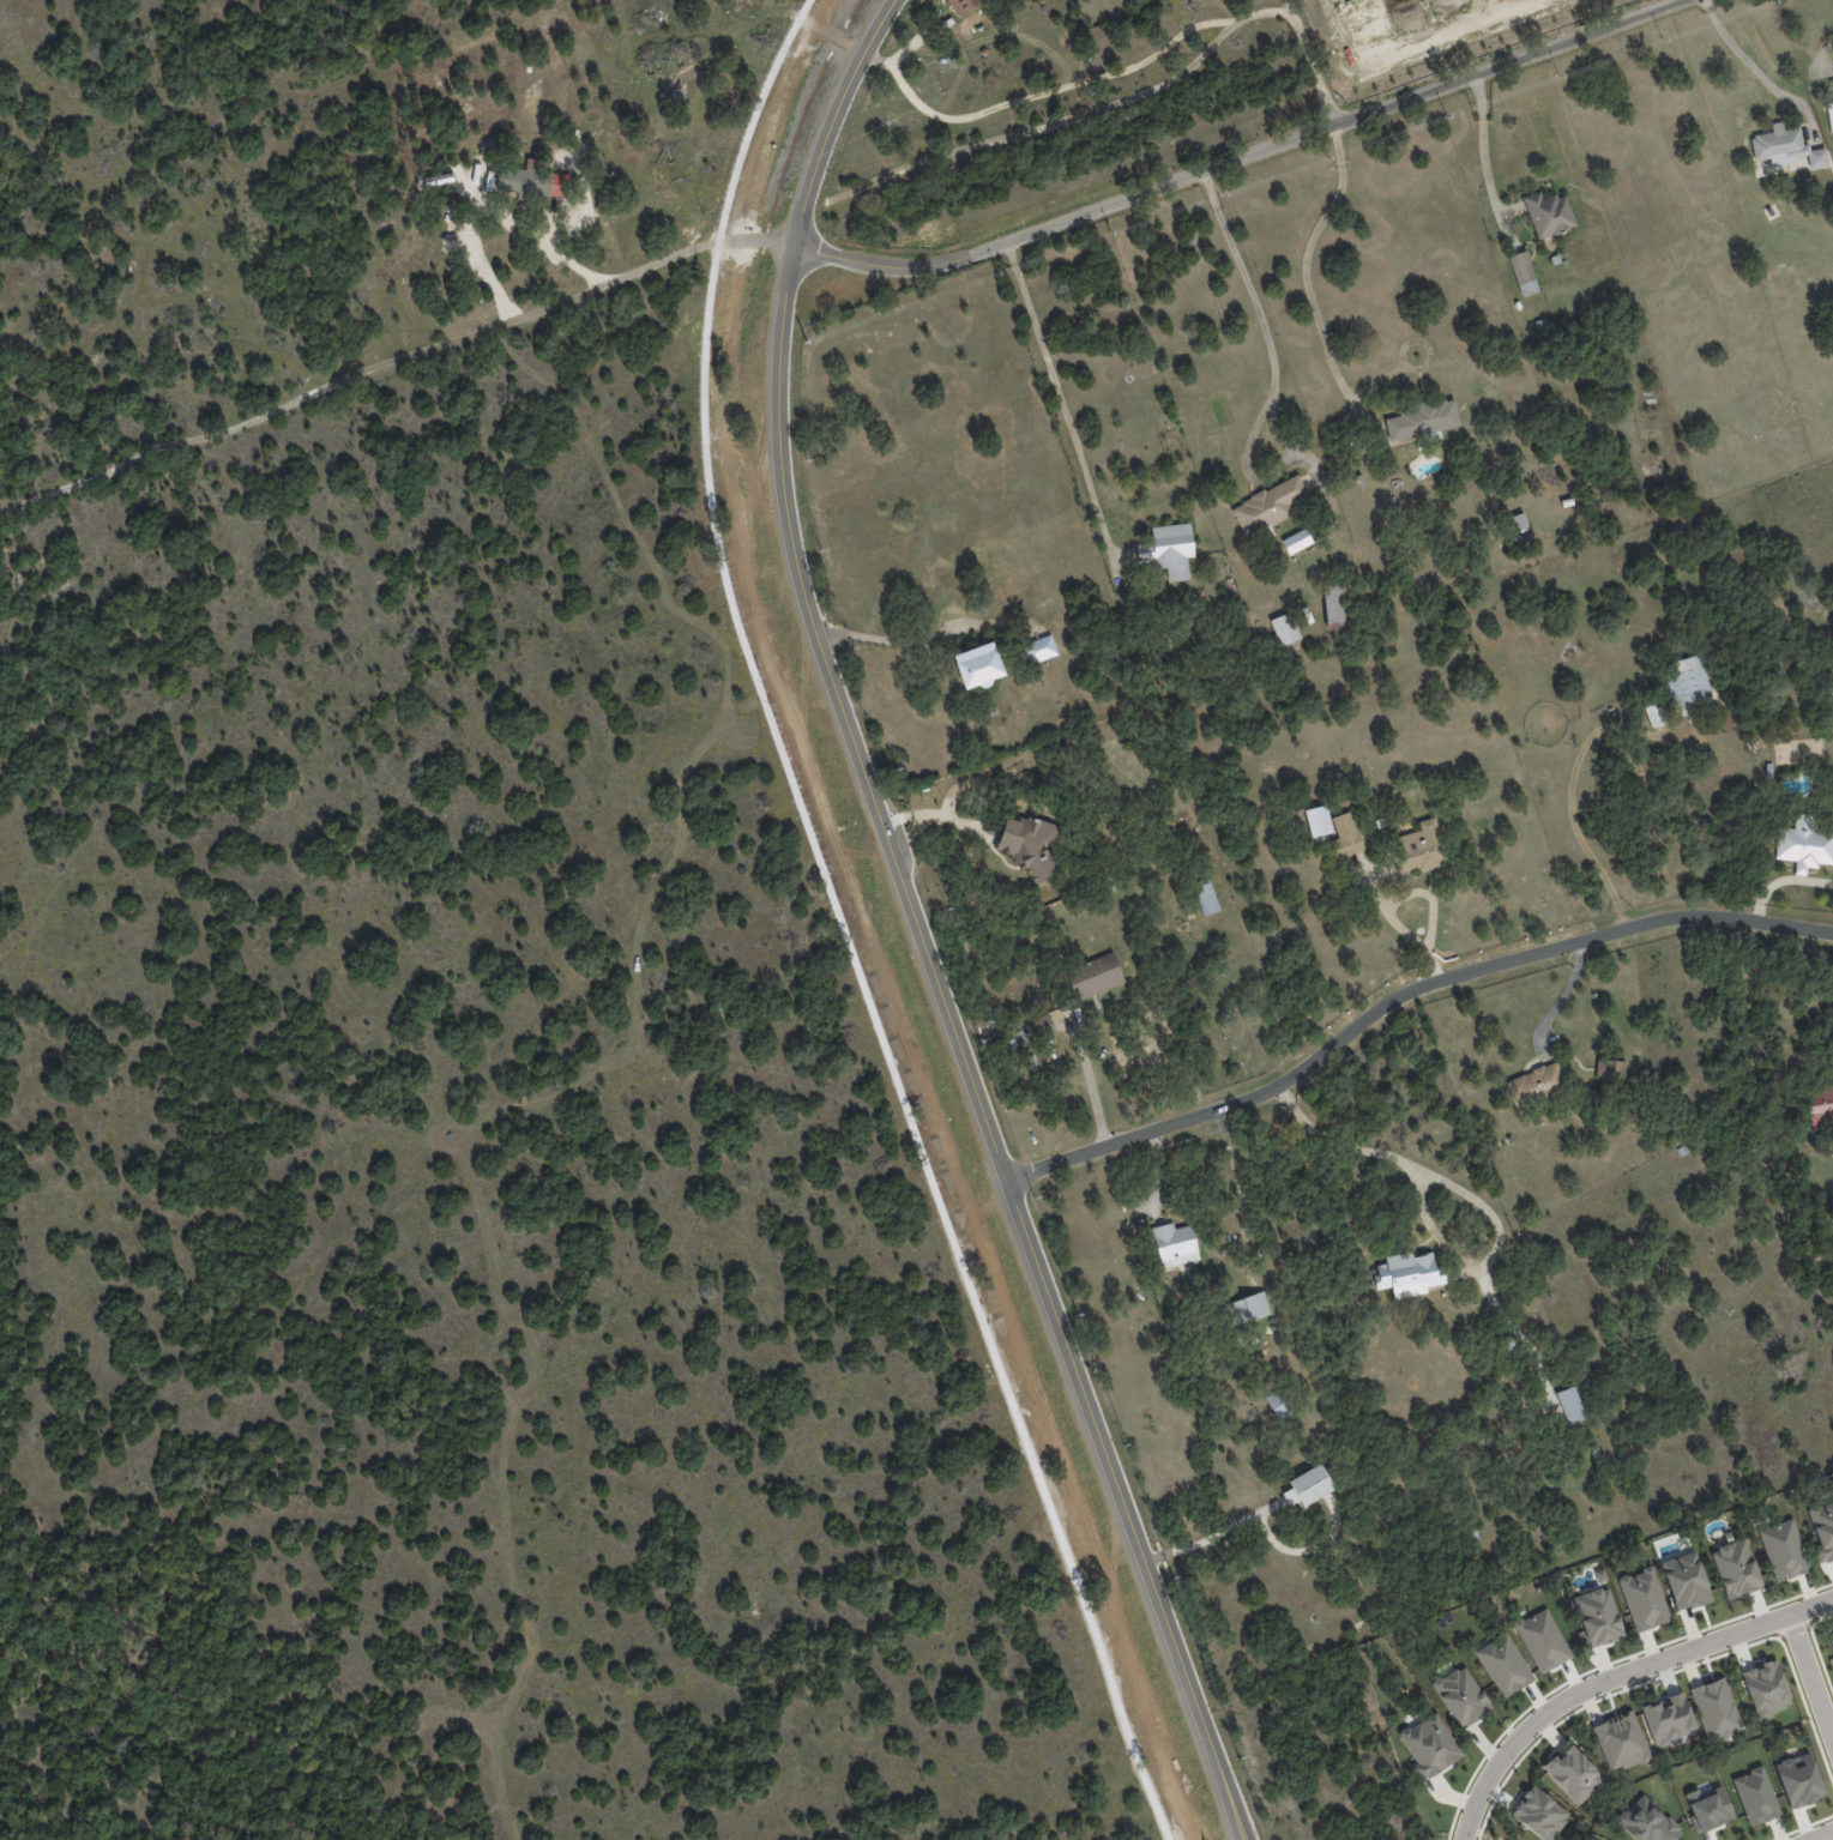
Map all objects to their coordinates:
building: (744, 4)
building: (964, 6)
road: (1290, 10)
building: (856, 18)
road: (1822, 52)
road: (1759, 71)
building: (861, 84)
road: (1044, 92)
road: (1115, 103)
building: (1785, 146)
road: (1483, 157)
road: (1223, 163)
building: (524, 181)
building: (583, 210)
building: (1549, 213)
road: (1304, 257)
building: (1523, 272)
building: (1783, 283)
road: (1254, 300)
road: (372, 366)
road: (1060, 396)
building: (1423, 418)
building: (1272, 506)
building: (1519, 527)
building: (1172, 551)
building: (1334, 607)
building: (1288, 628)
road: (891, 640)
building: (1045, 648)
building: (985, 668)
building: (1687, 684)
building: (1653, 712)
road: (936, 813)
building: (1318, 821)
building: (1385, 822)
building: (1346, 838)
building: (1029, 843)
building: (1804, 844)
building: (1423, 847)
building: (1210, 895)
road: (1388, 899)
building: (1193, 915)
road: (918, 924)
building: (1099, 976)
road: (1404, 993)
building: (1066, 1016)
building: (1045, 1022)
building: (1615, 1068)
building: (1539, 1084)
road: (1096, 1091)
building: (1820, 1105)
building: (1514, 1139)
building: (1681, 1151)
road: (1466, 1193)
building: (1225, 1238)
building: (1178, 1244)
building: (1411, 1275)
building: (1252, 1308)
building: (1282, 1405)
building: (1576, 1405)
building: (1600, 1454)
building: (1313, 1485)
building: (1822, 1530)
road: (1216, 1533)
building: (1477, 1539)
building: (1783, 1550)
building: (1735, 1568)
building: (1684, 1581)
building: (1642, 1599)
road: (1808, 1604)
building: (1598, 1616)
building: (1503, 1665)
road: (1808, 1682)
road: (1586, 1685)
building: (1766, 1688)
building: (1461, 1696)
building: (1714, 1709)
building: (1621, 1741)
building: (1429, 1745)
building: (1573, 1774)
building: (1798, 1780)
building: (1755, 1796)
building: (1708, 1808)
building: (1539, 1814)
building: (1646, 1821)
road: (1820, 1834)

